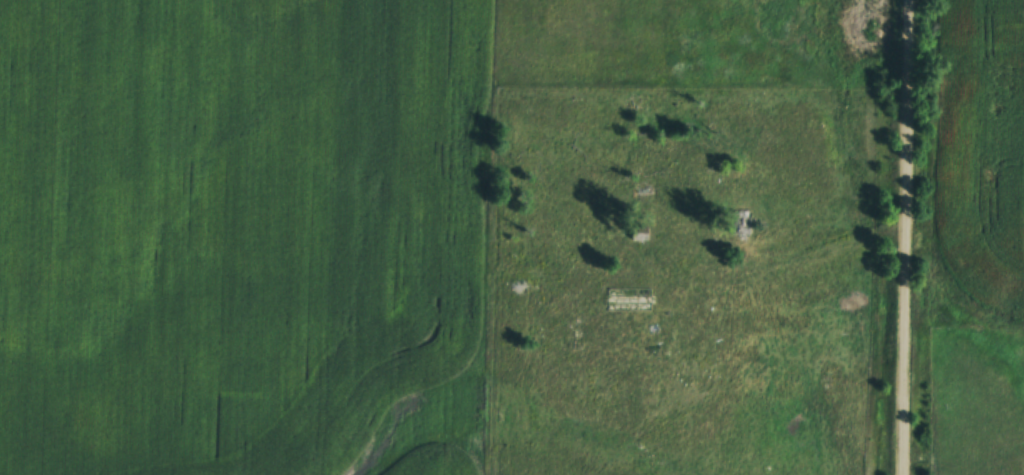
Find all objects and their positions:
road: (905, 237)

